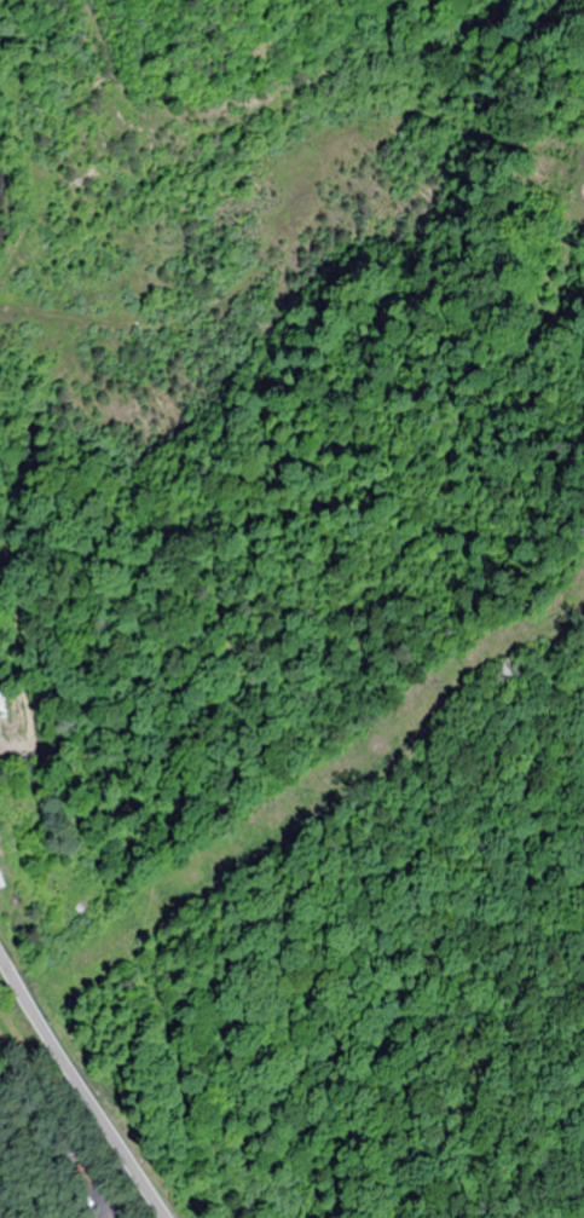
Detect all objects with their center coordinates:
road: (306, 790)
road: (76, 1083)

